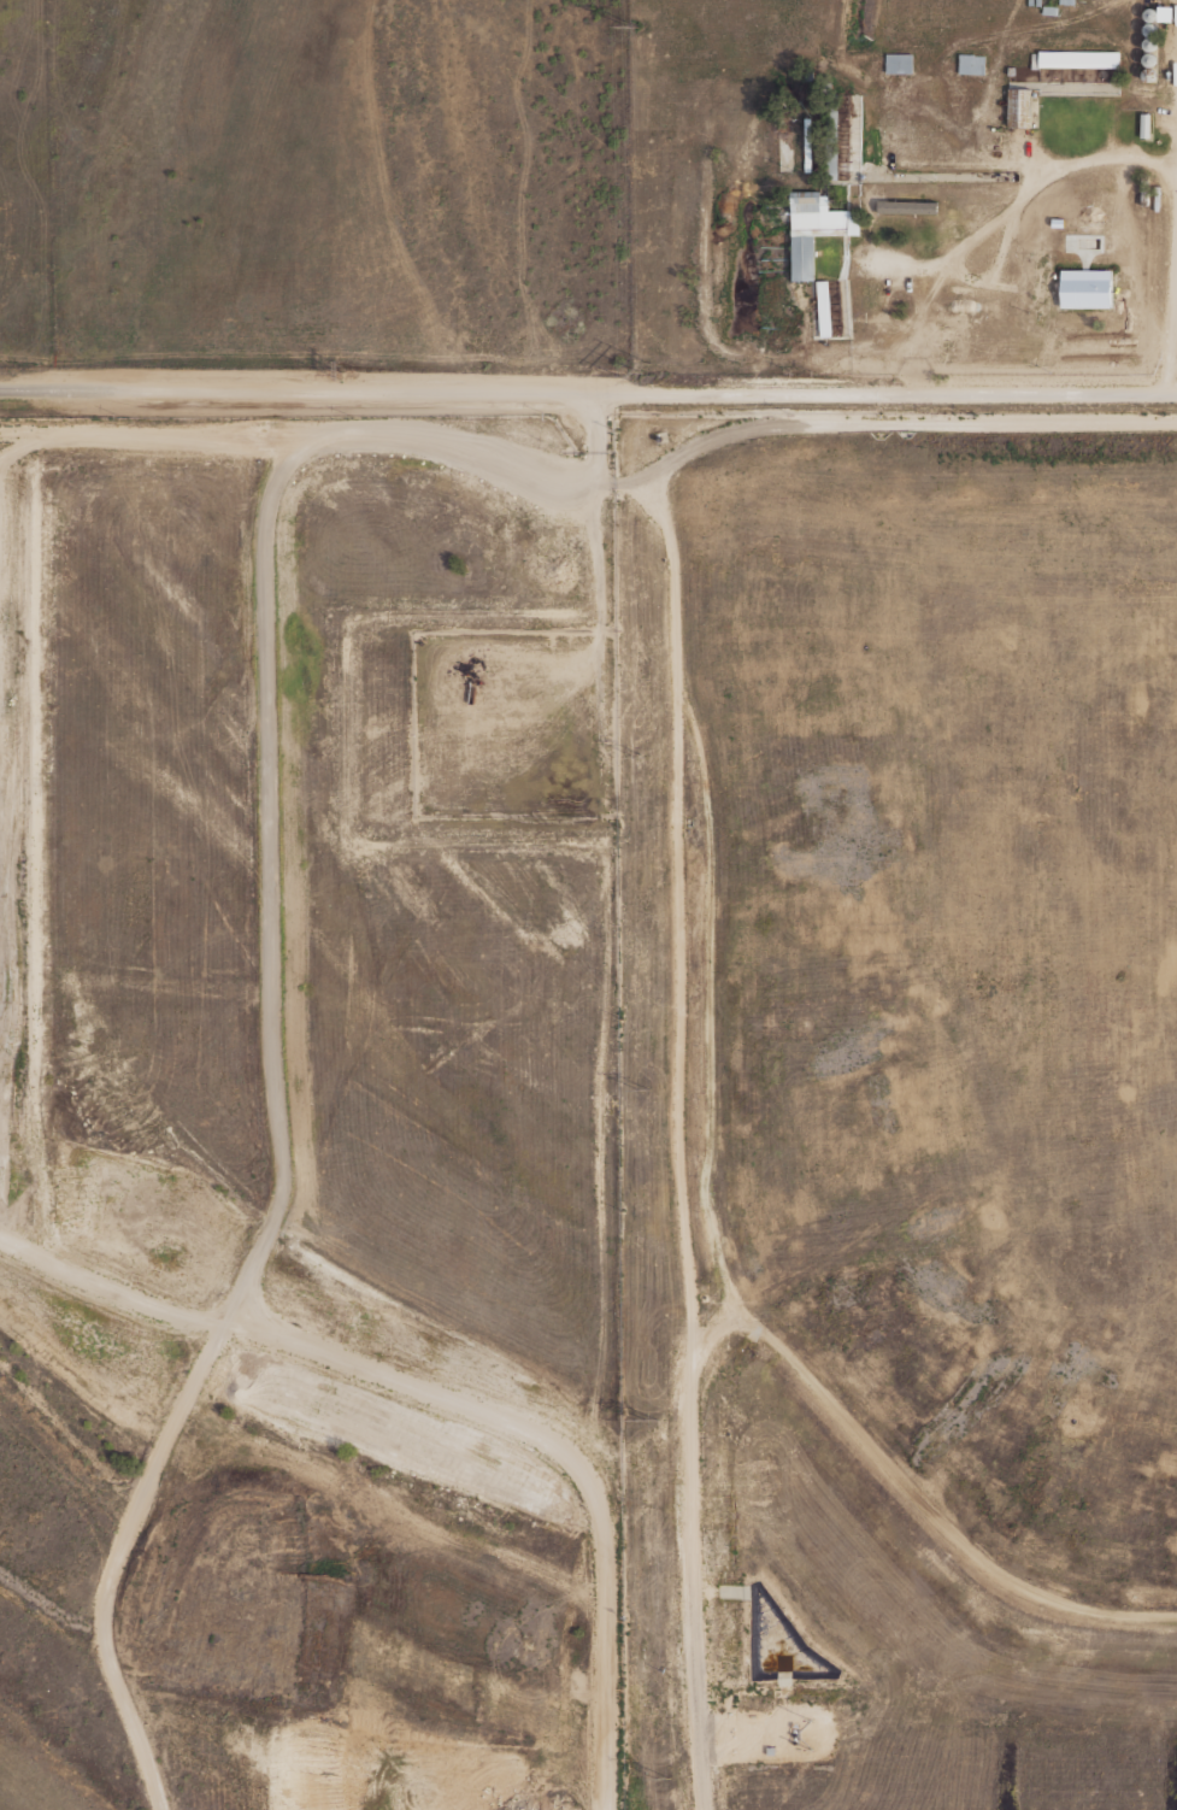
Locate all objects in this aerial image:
building: (1029, 2)
building: (1036, 2)
building: (1064, 2)
building: (1048, 10)
building: (1150, 13)
building: (1166, 13)
power tower: (632, 28)
building: (1150, 29)
building: (1150, 43)
building: (1077, 58)
building: (1150, 58)
building: (970, 63)
building: (898, 64)
building: (1149, 74)
road: (988, 101)
building: (1019, 107)
building: (1146, 124)
road: (1081, 160)
building: (1144, 187)
building: (907, 206)
building: (813, 229)
building: (1032, 251)
road: (952, 261)
building: (1040, 276)
road: (961, 278)
building: (1085, 288)
building: (823, 307)
road: (1172, 328)
power tower: (342, 371)
power tower: (638, 372)
road: (306, 392)
road: (894, 392)
road: (894, 417)
road: (48, 439)
road: (592, 441)
road: (559, 487)
road: (265, 701)
power tower: (641, 758)
road: (673, 882)
road: (707, 1028)
power tower: (645, 1091)
landfill: (911, 1113)
road: (12, 1240)
road: (82, 1277)
power tower: (646, 1421)
road: (155, 1448)
road: (929, 1511)
road: (687, 1577)
building: (770, 1750)
power tower: (664, 1779)

